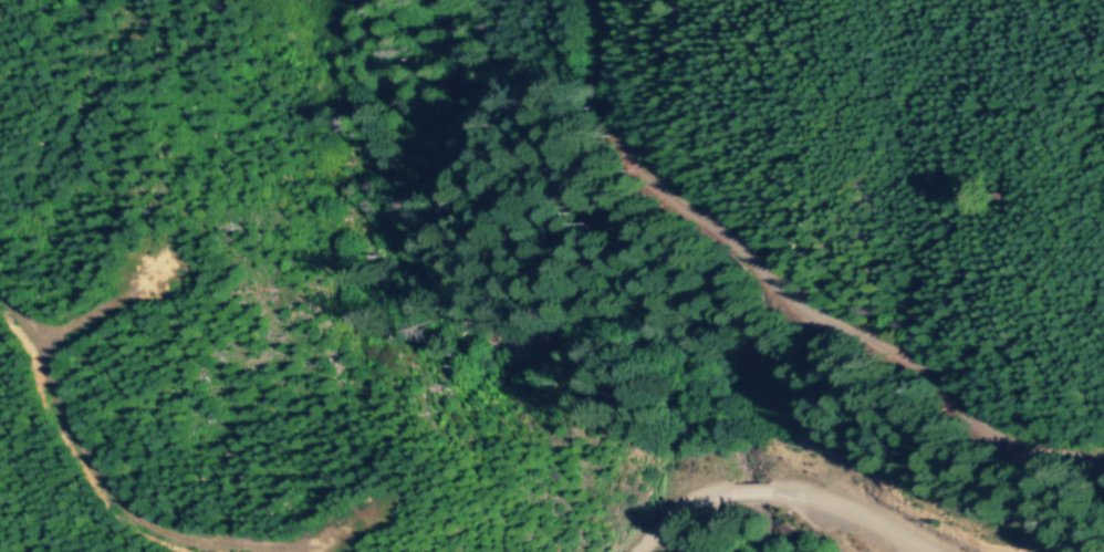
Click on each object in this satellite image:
road: (746, 295)
road: (740, 492)

